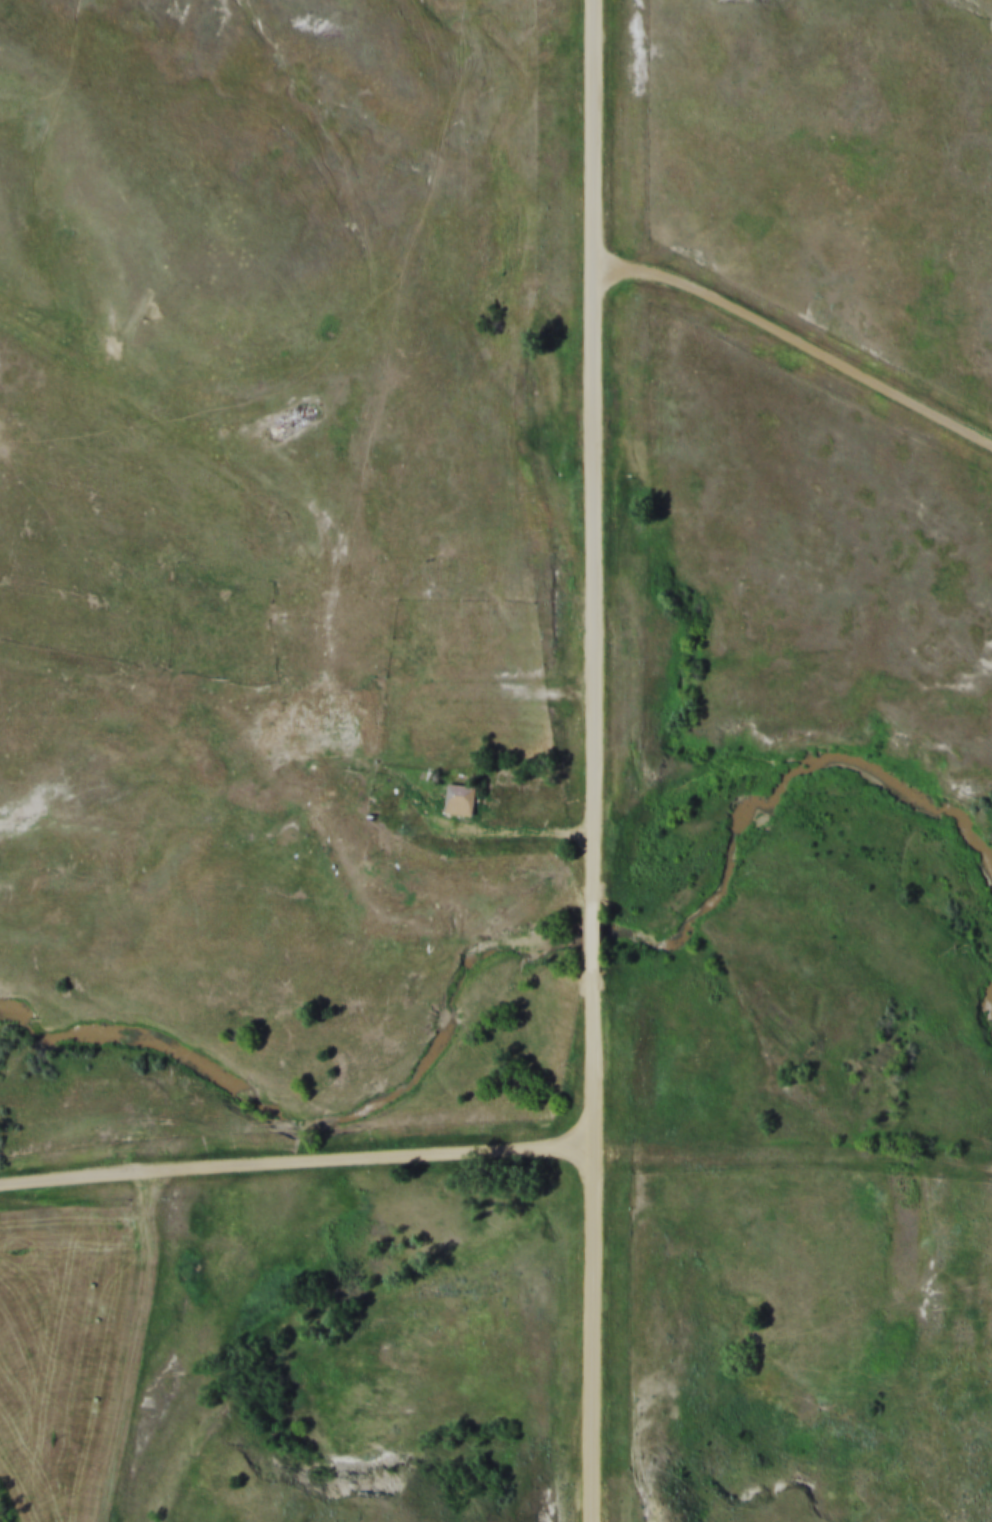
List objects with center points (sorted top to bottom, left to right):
road: (799, 341)
road: (597, 450)
building: (377, 677)
road: (511, 689)
building: (311, 710)
building: (332, 787)
building: (461, 796)
road: (522, 830)
road: (600, 939)
road: (601, 1059)
road: (300, 1156)
road: (602, 1332)

